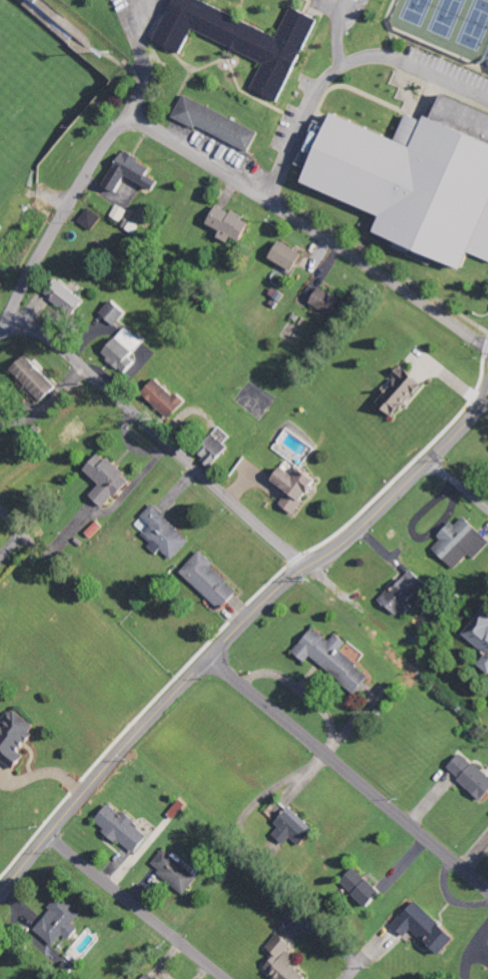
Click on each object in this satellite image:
road: (338, 3)
road: (336, 31)
road: (140, 38)
building: (245, 39)
road: (340, 65)
building: (218, 123)
building: (133, 172)
building: (415, 176)
road: (67, 201)
building: (120, 212)
building: (90, 218)
building: (232, 223)
road: (307, 228)
building: (290, 255)
building: (72, 299)
building: (329, 302)
building: (117, 312)
building: (128, 352)
building: (36, 377)
building: (402, 390)
building: (171, 398)
road: (460, 430)
road: (158, 436)
building: (218, 452)
building: (111, 479)
road: (458, 484)
building: (302, 489)
building: (167, 533)
road: (26, 536)
building: (461, 542)
building: (214, 581)
building: (407, 594)
building: (481, 632)
building: (336, 659)
building: (486, 664)
road: (201, 665)
building: (17, 738)
road: (348, 775)
building: (473, 775)
building: (298, 828)
building: (127, 829)
building: (179, 871)
building: (367, 888)
road: (138, 906)
building: (62, 922)
building: (429, 928)
building: (286, 960)
road: (352, 969)
building: (152, 976)

